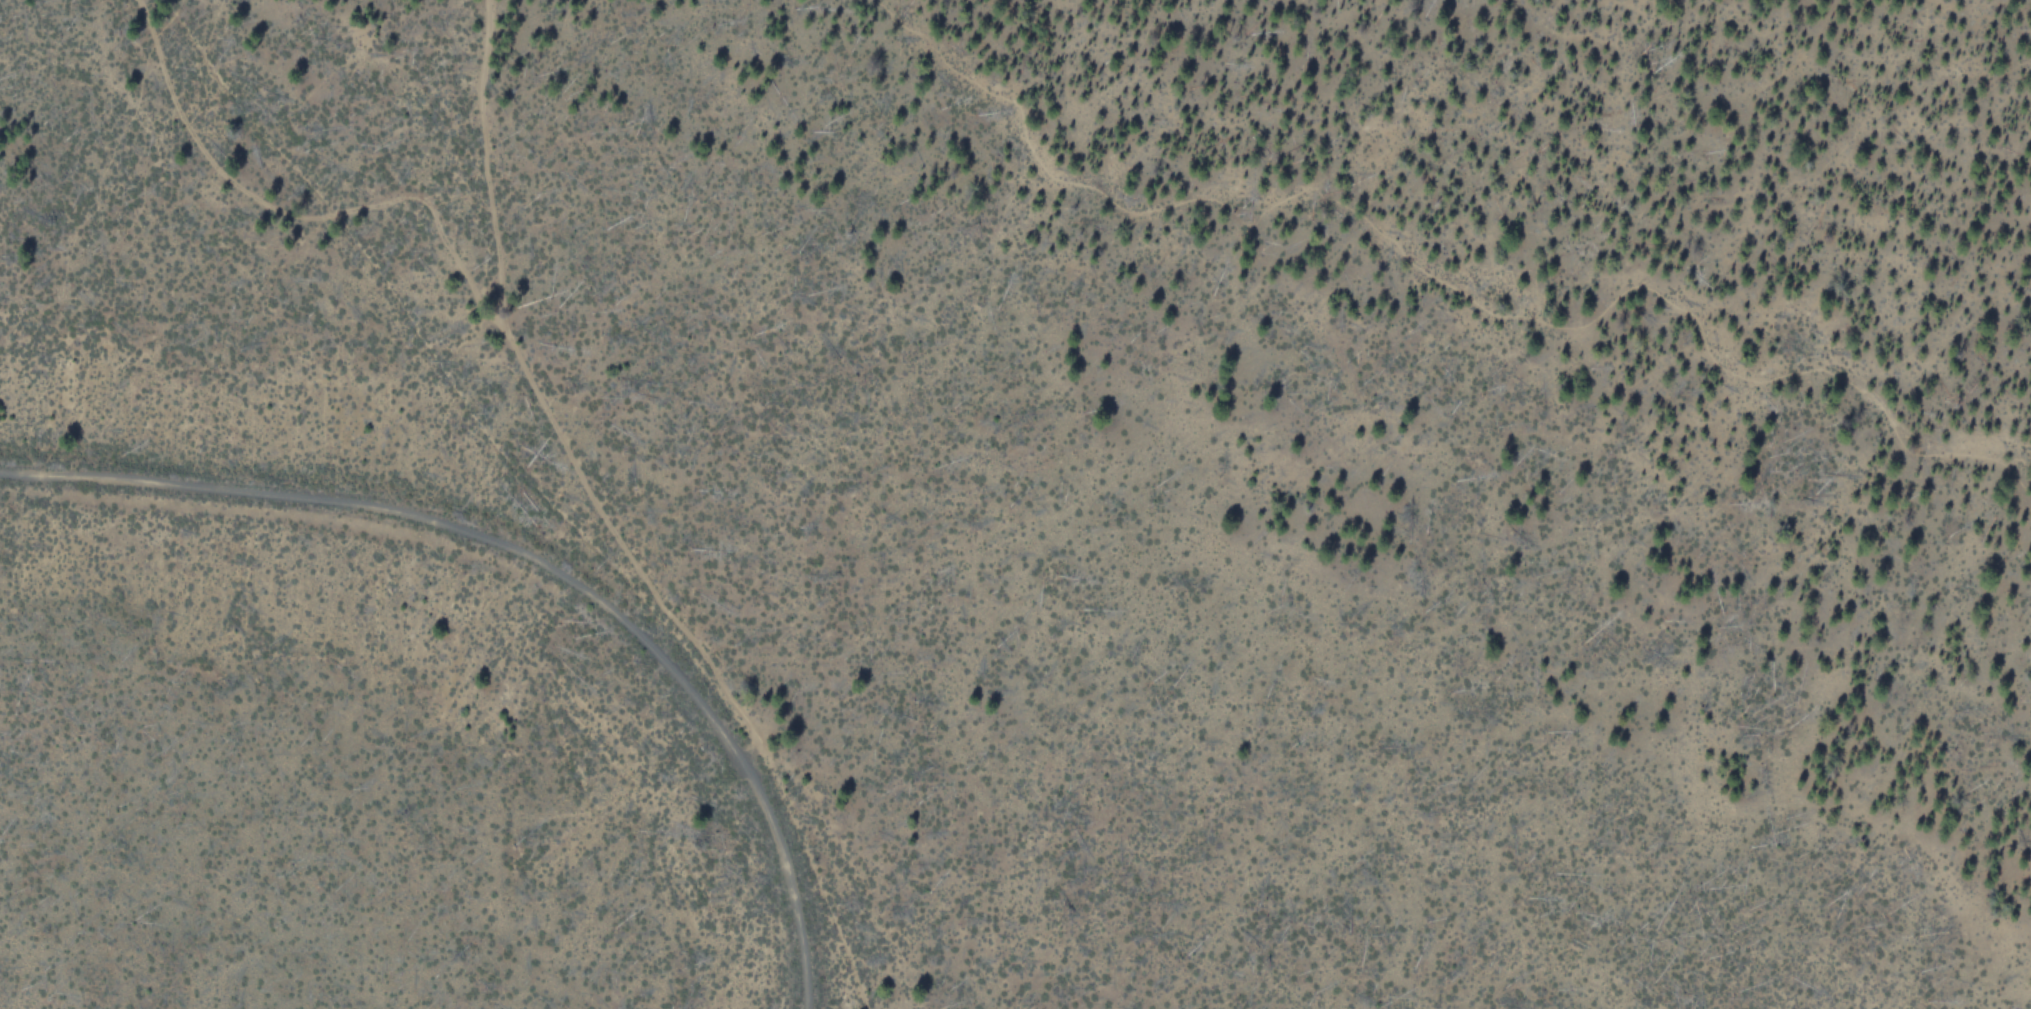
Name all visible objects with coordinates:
road: (485, 178)
road: (482, 310)
road: (533, 562)

